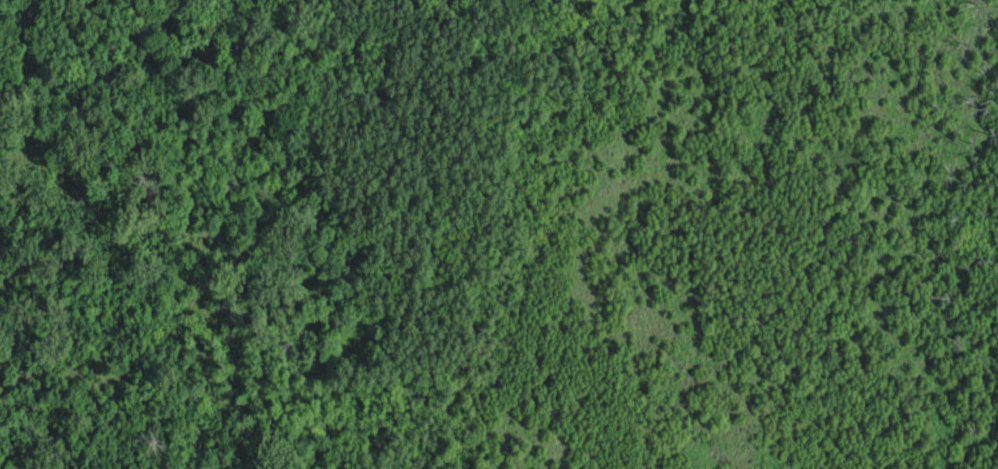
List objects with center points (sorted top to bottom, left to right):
park: (530, 234)

